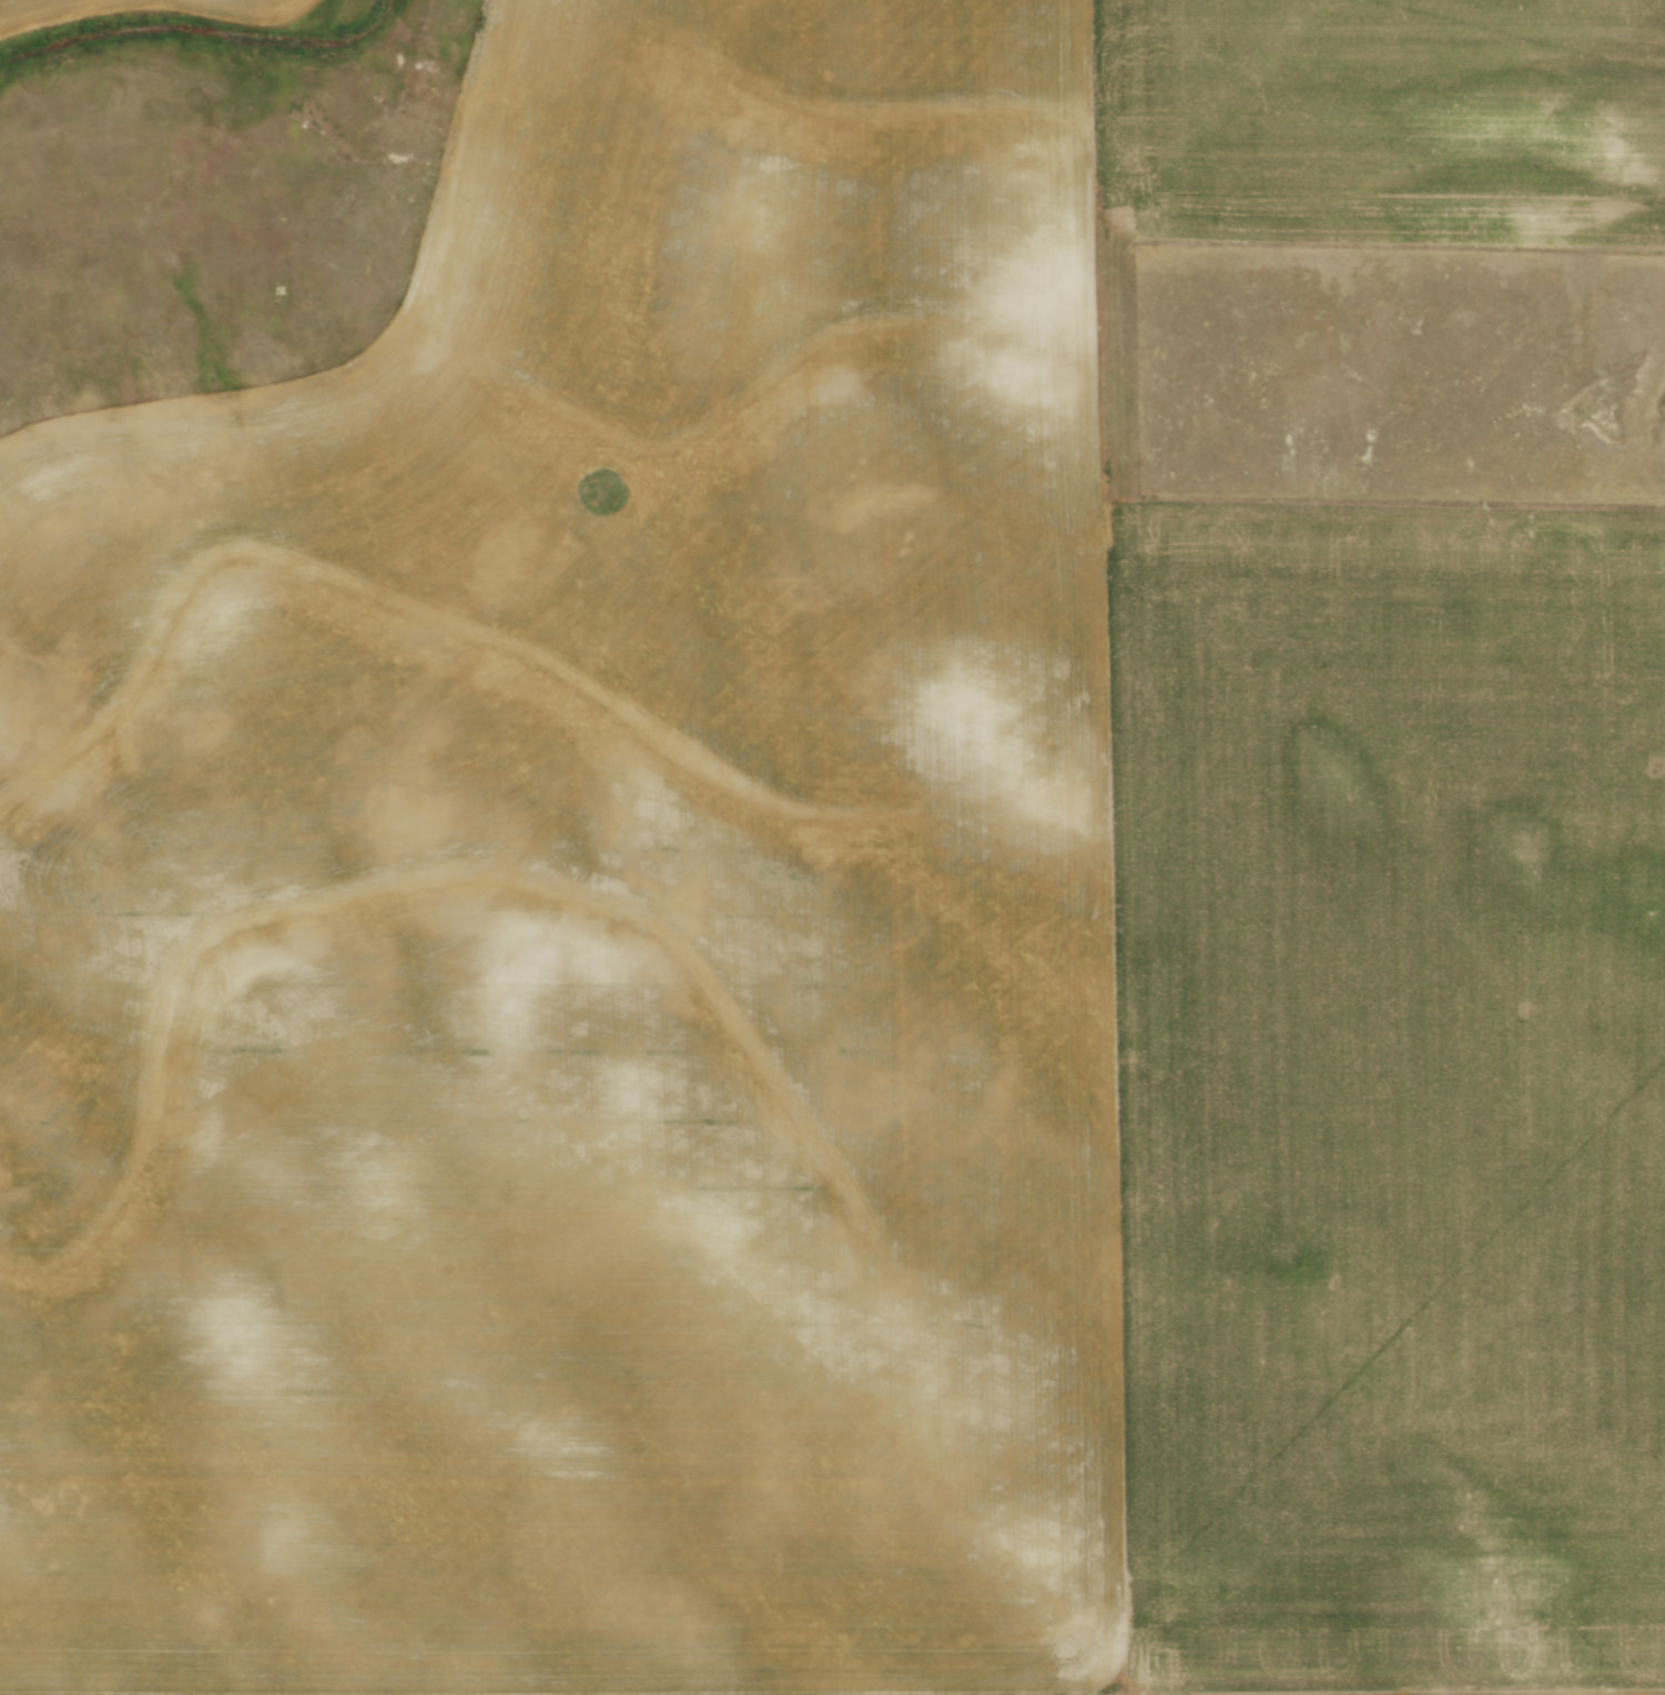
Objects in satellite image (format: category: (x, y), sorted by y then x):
crop: (235, 6)
crop: (37, 9)
crop: (841, 922)

